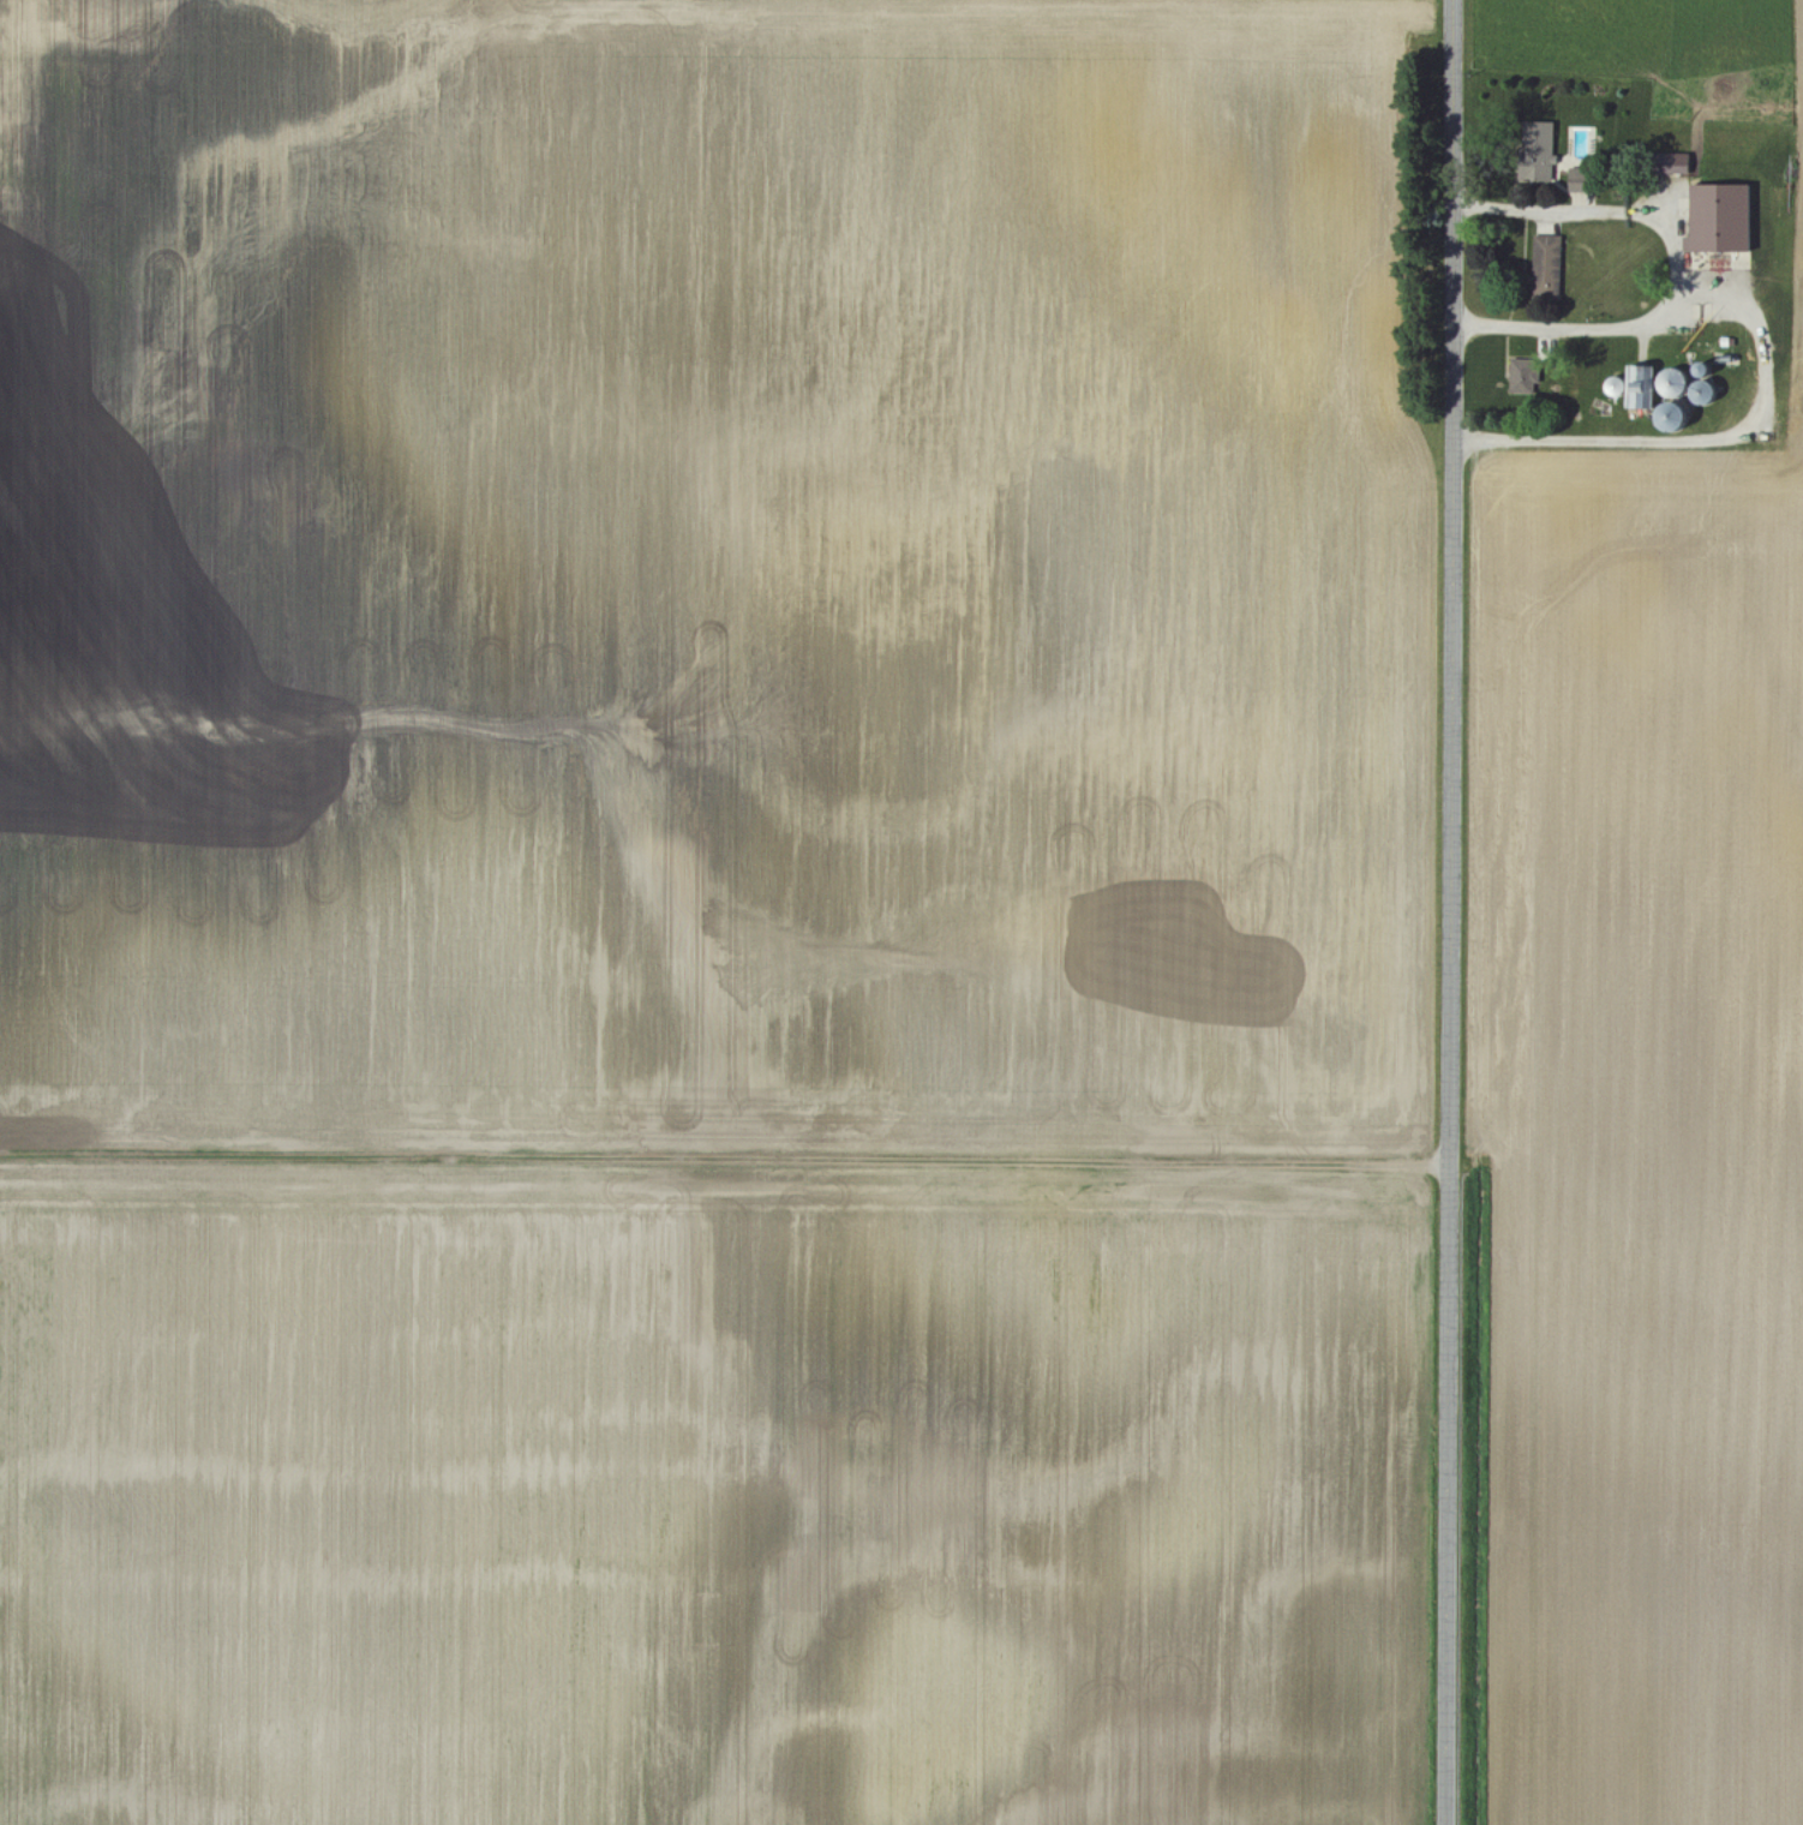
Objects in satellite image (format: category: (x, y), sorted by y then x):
building: (1537, 146)
building: (1675, 160)
building: (1720, 214)
building: (1546, 264)
road: (1675, 268)
building: (1641, 384)
road: (1705, 438)
road: (1452, 911)

